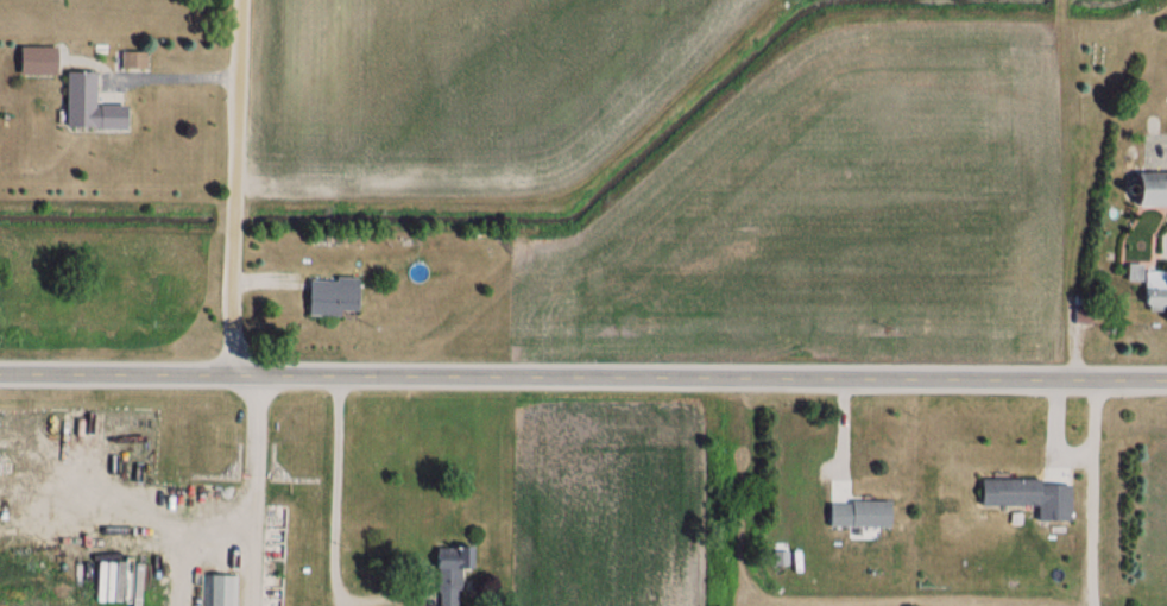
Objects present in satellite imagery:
building: (134, 59)
road: (174, 77)
building: (88, 105)
road: (236, 188)
building: (1149, 190)
building: (1155, 291)
building: (330, 297)
road: (583, 378)
road: (1042, 427)
road: (345, 492)
road: (1078, 493)
building: (1028, 497)
building: (858, 513)
building: (452, 573)
building: (225, 591)

